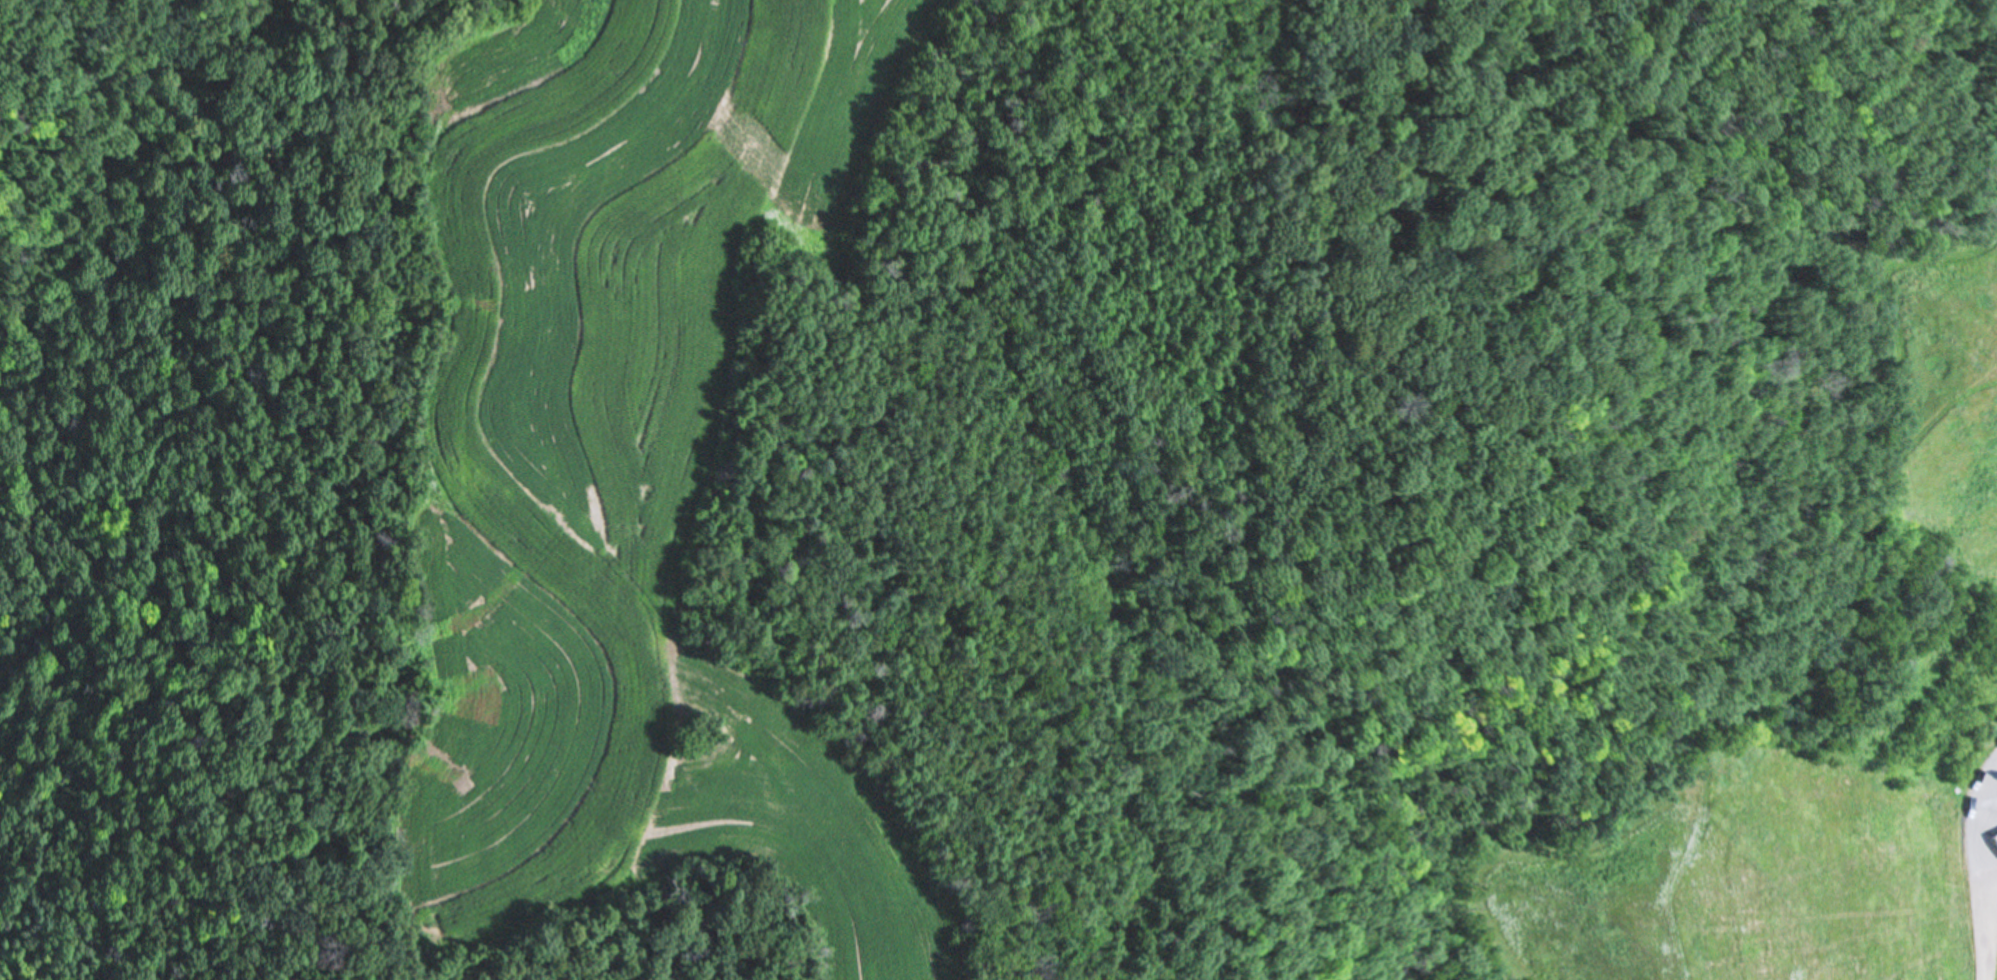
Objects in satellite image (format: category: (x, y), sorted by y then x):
building: (1996, 834)
road: (1991, 971)

